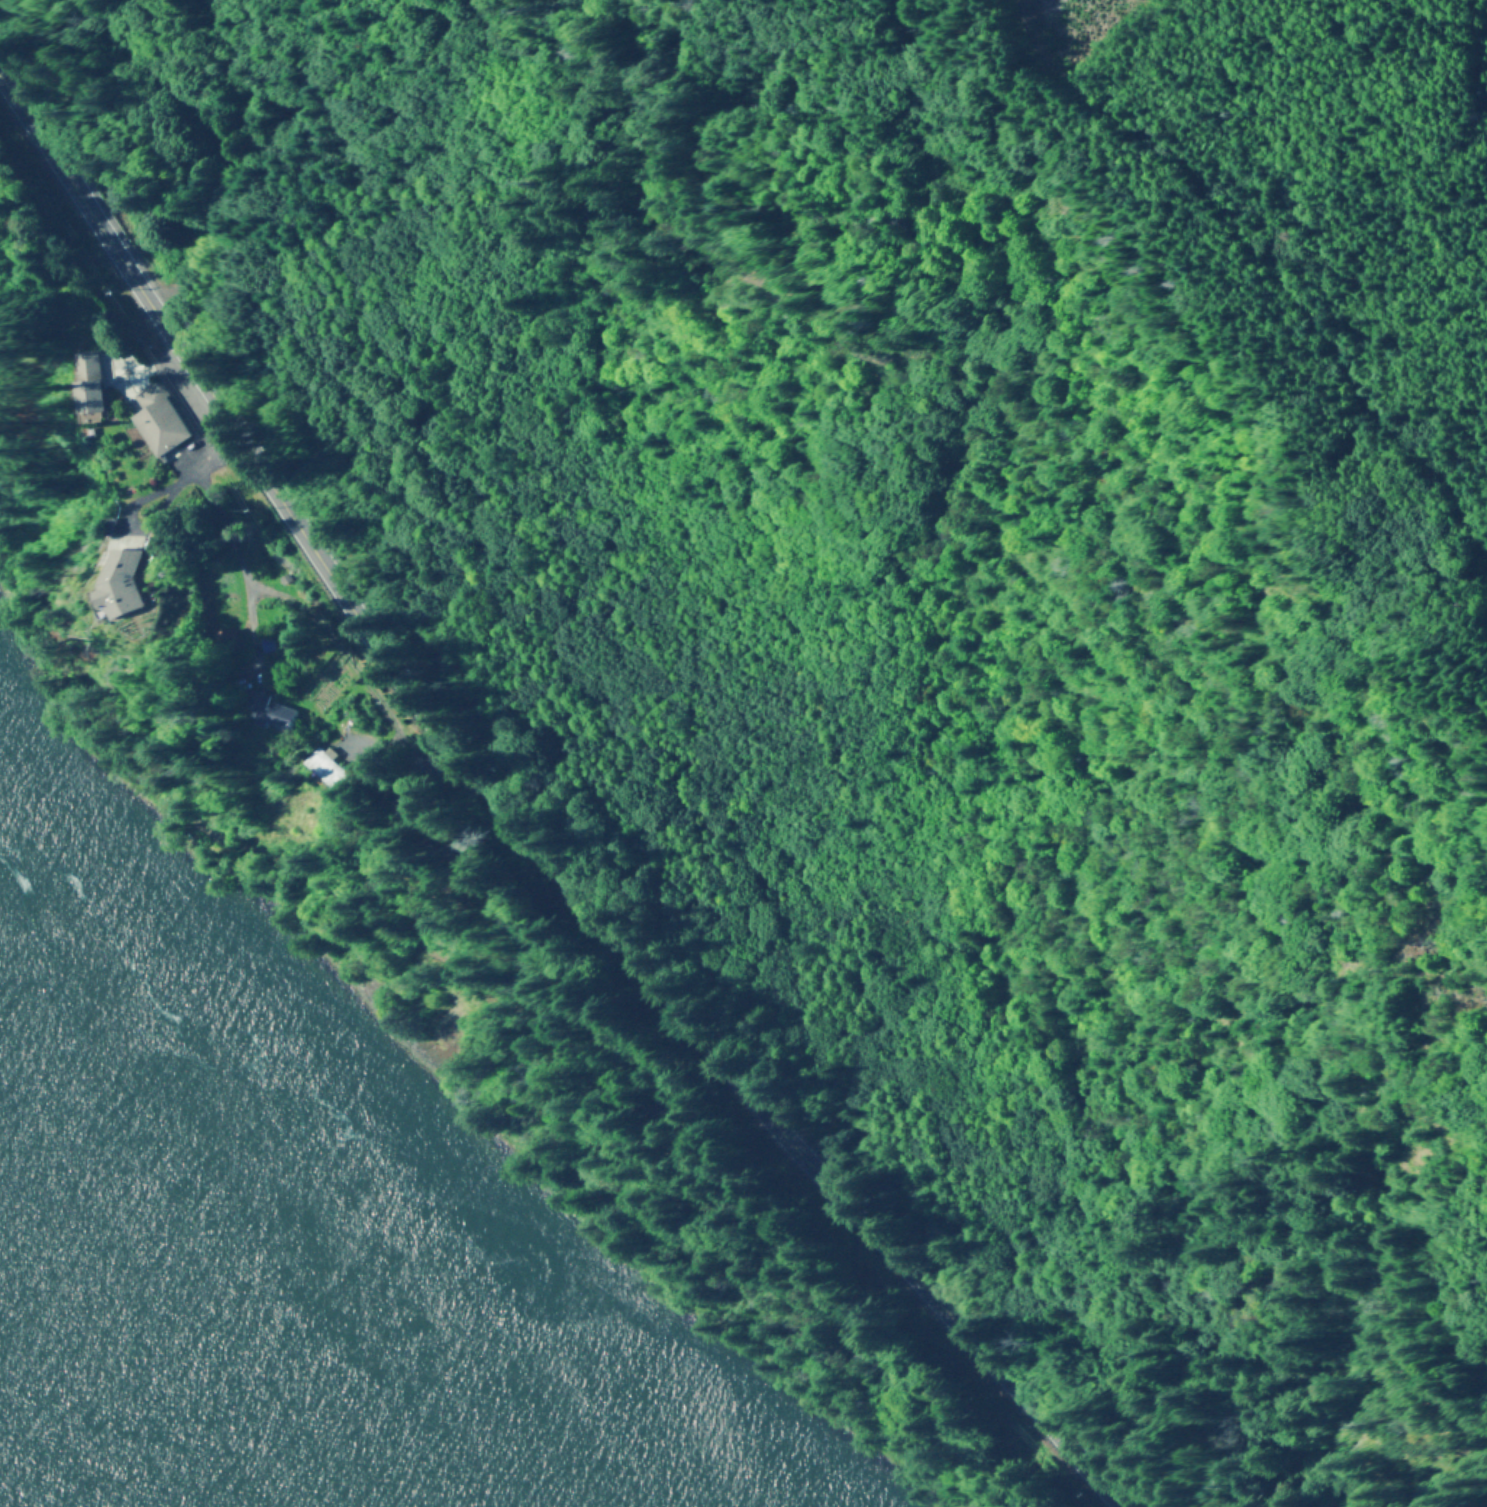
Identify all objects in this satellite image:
road: (216, 158)
road: (1258, 278)
building: (94, 385)
building: (161, 421)
building: (147, 580)
building: (271, 710)
building: (330, 767)
road: (507, 832)

